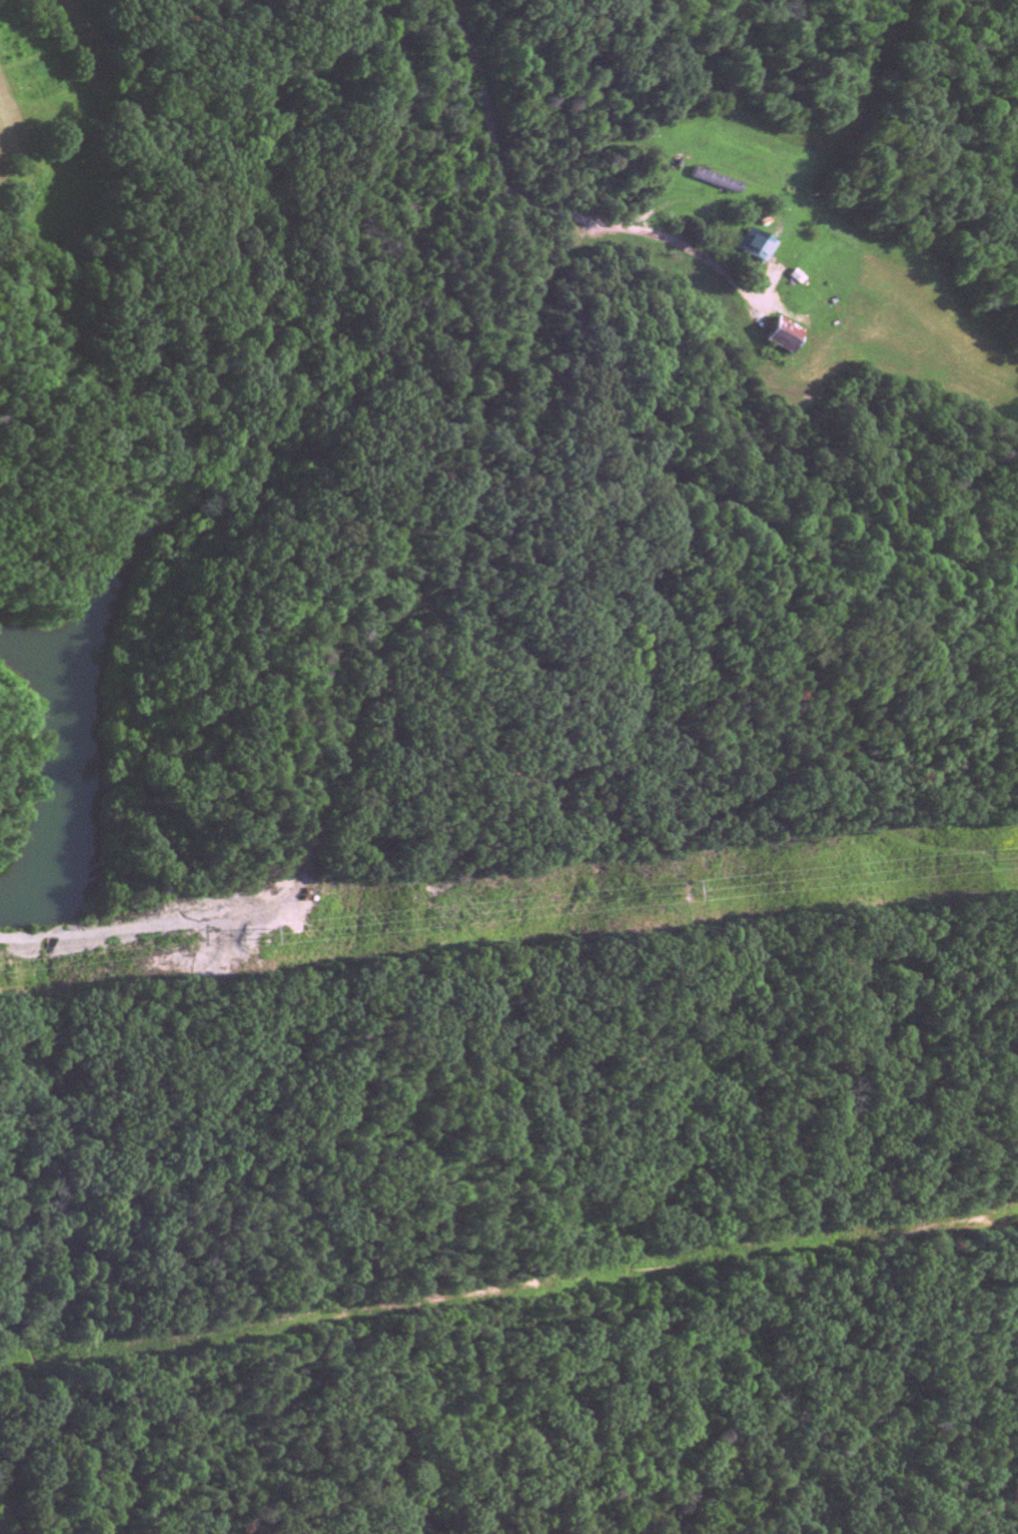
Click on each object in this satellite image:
building: (716, 183)
road: (530, 197)
building: (757, 248)
building: (781, 338)
road: (422, 648)
power tower: (686, 888)
power tower: (261, 933)

